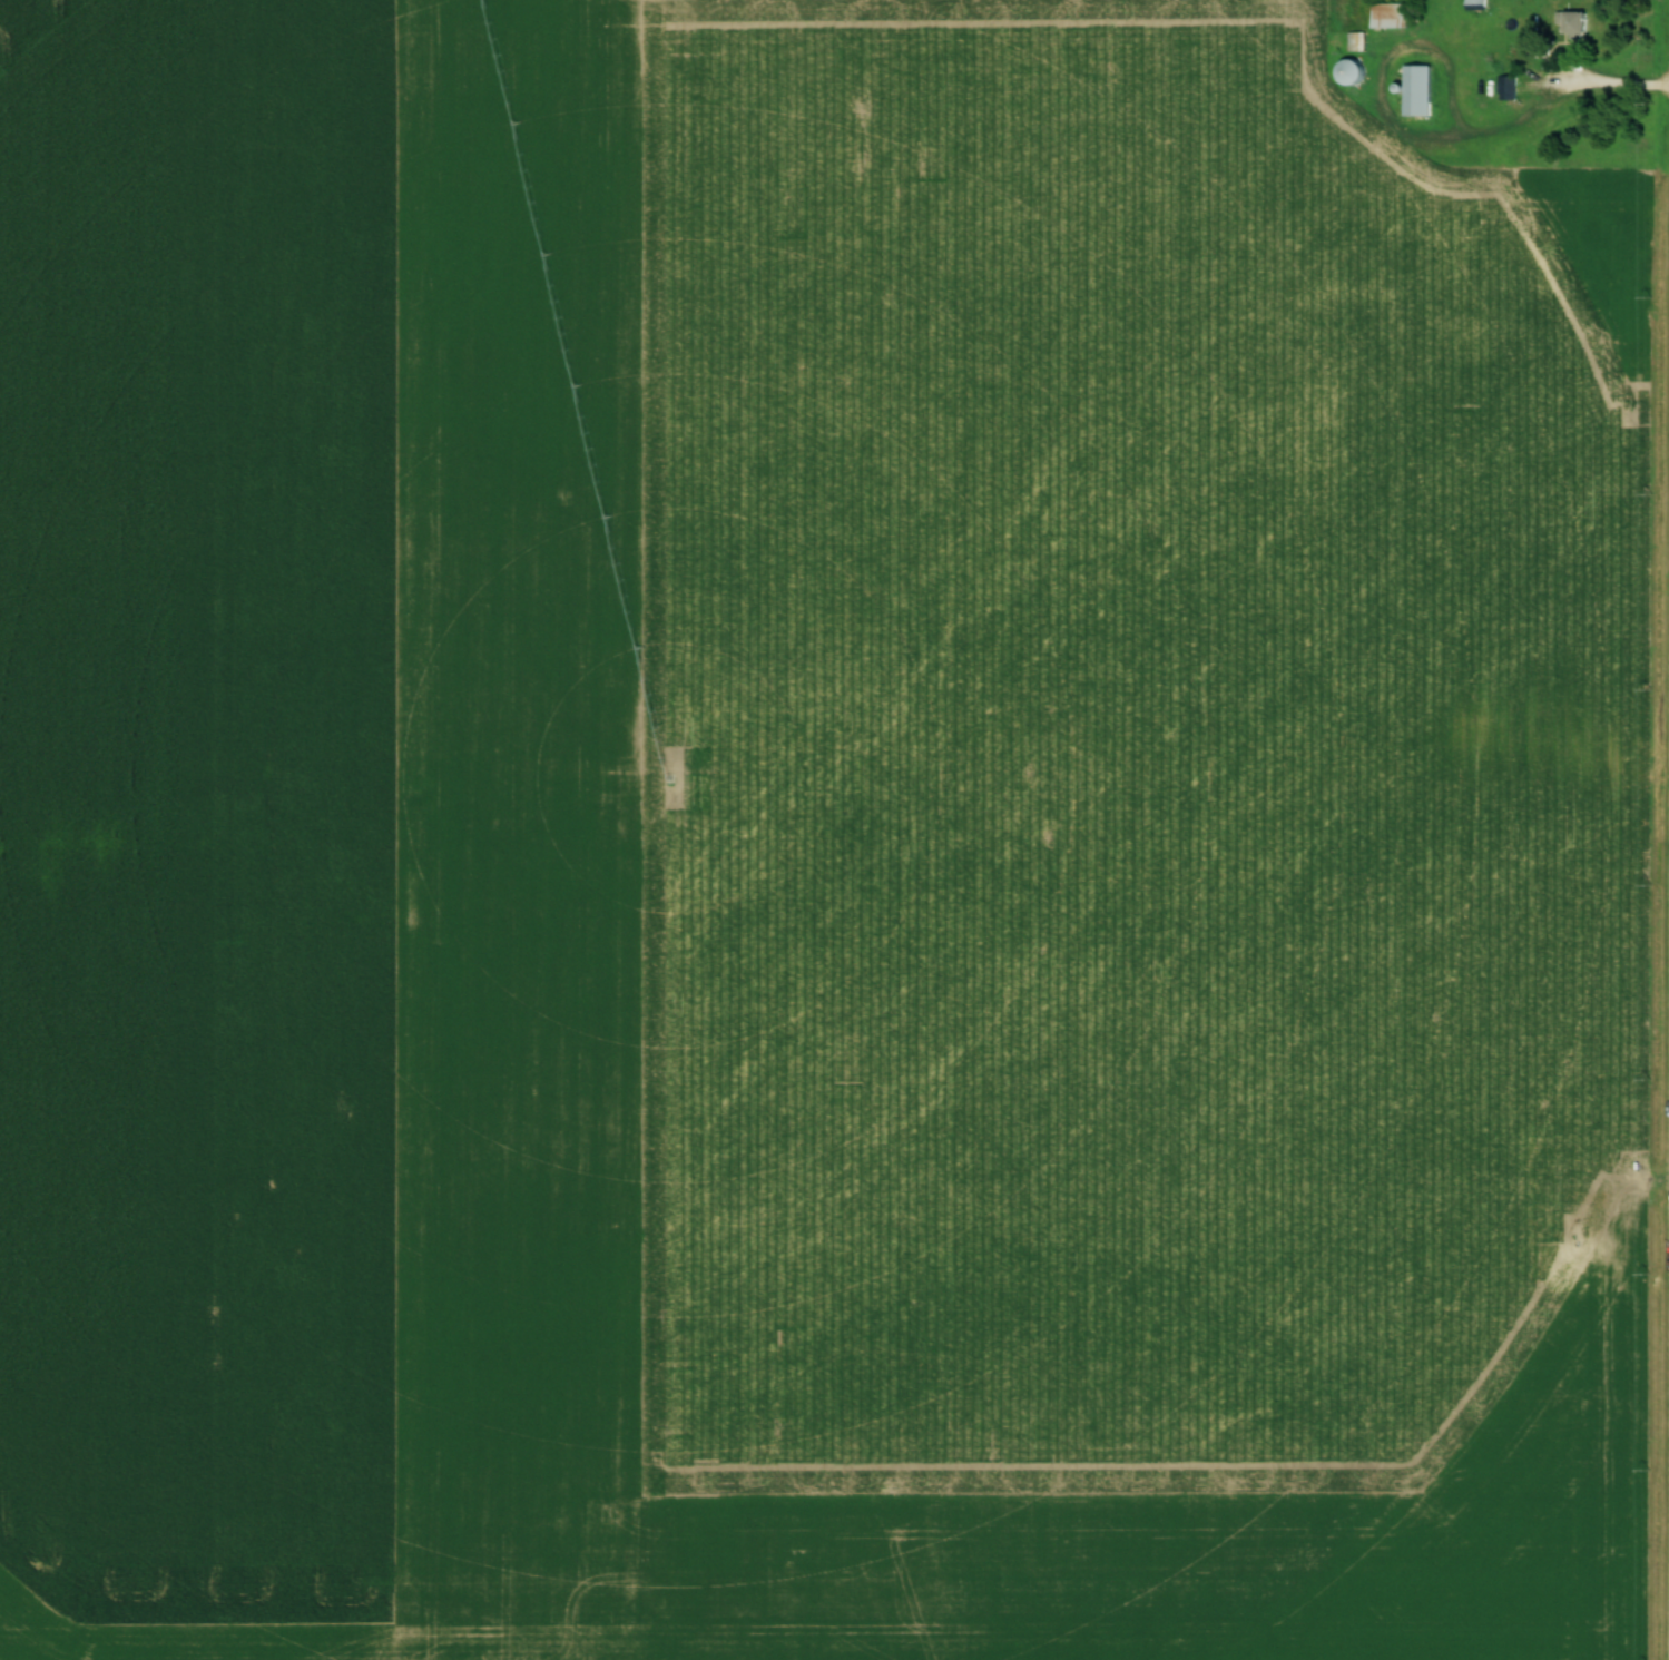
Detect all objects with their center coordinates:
building: (1388, 16)
building: (1570, 22)
building: (1355, 41)
building: (1348, 72)
building: (1505, 88)
road: (1568, 90)
building: (1416, 91)

